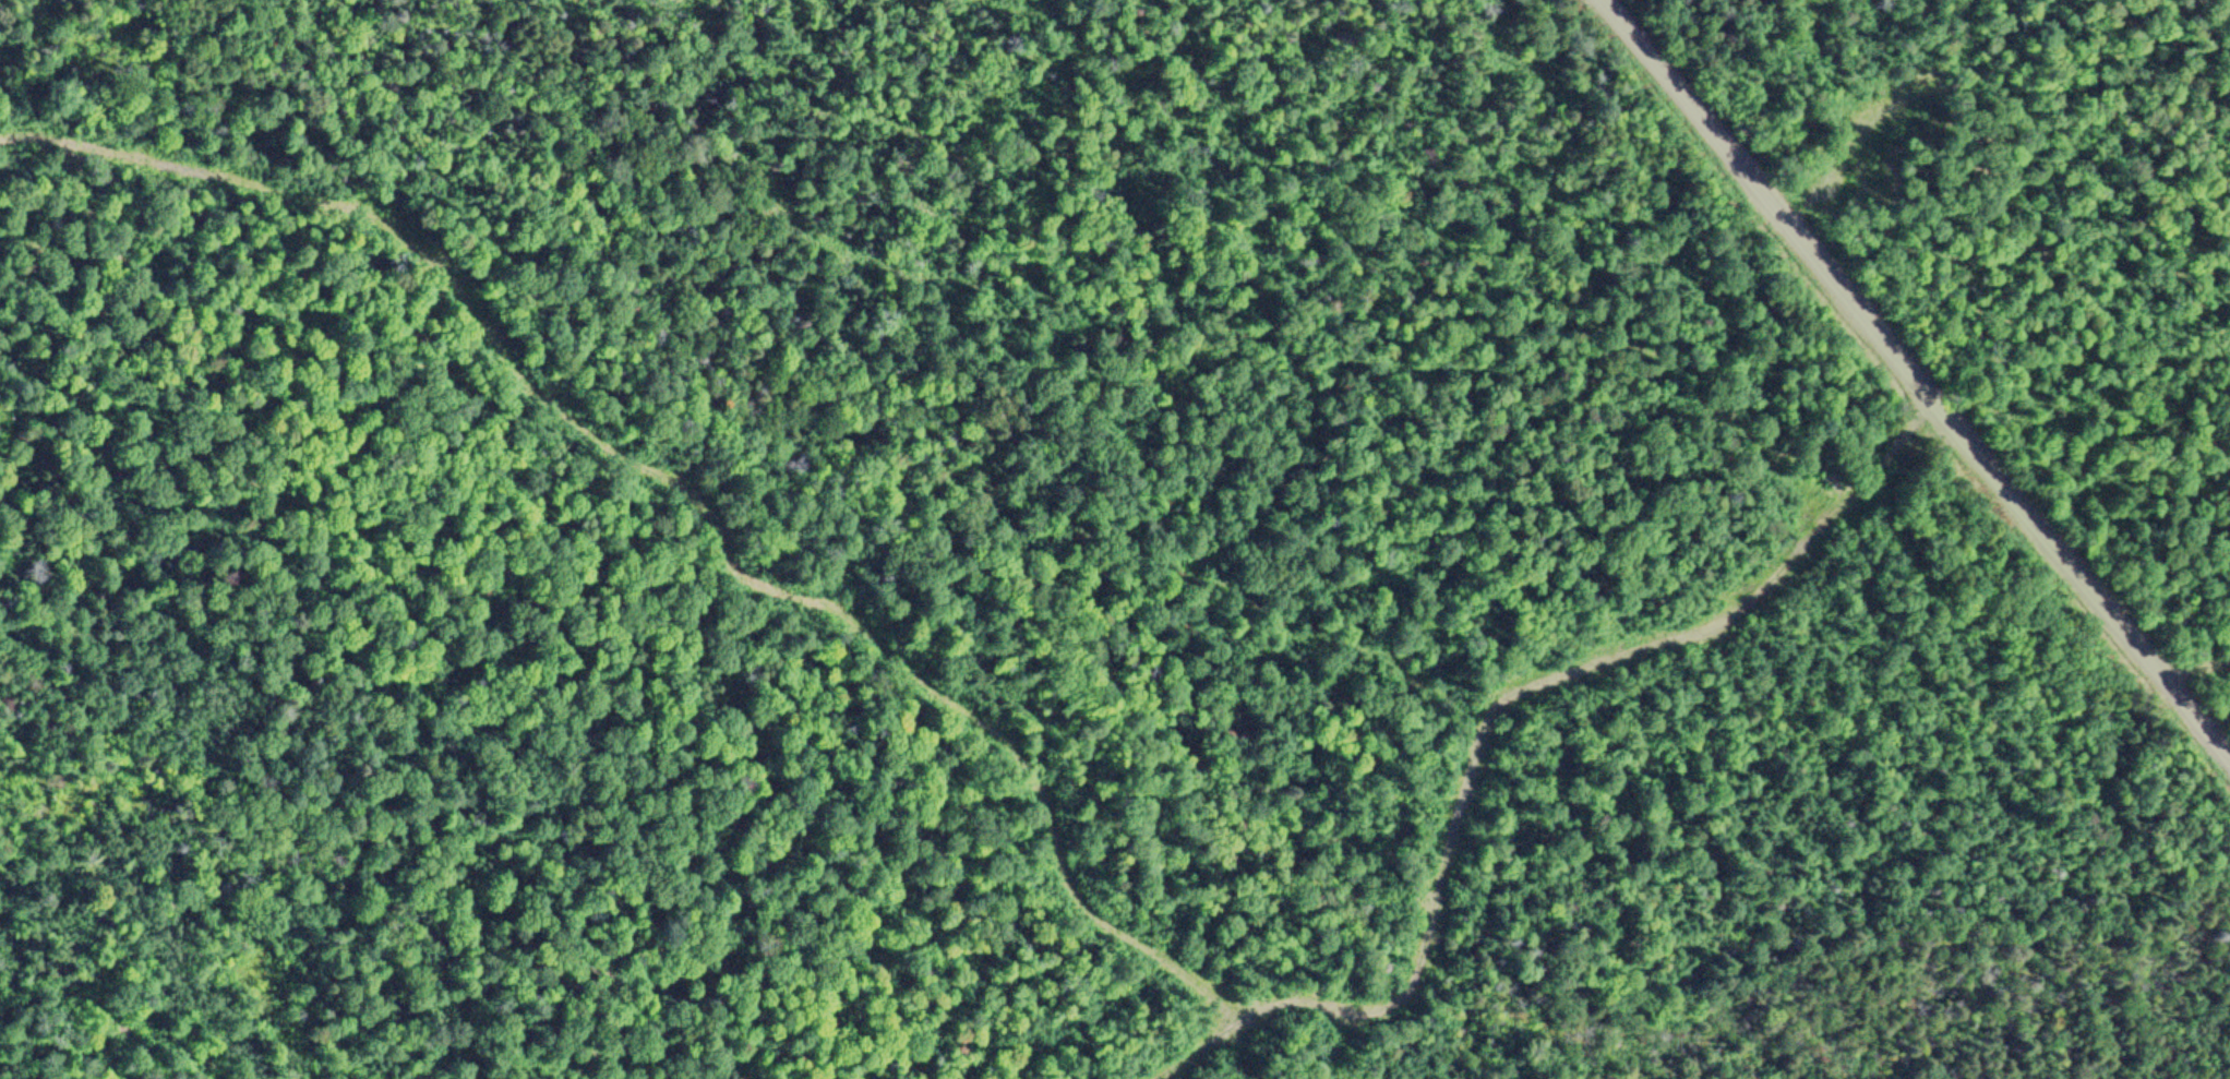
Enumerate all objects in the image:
road: (1923, 376)
road: (681, 473)
road: (2197, 669)
road: (1482, 717)

